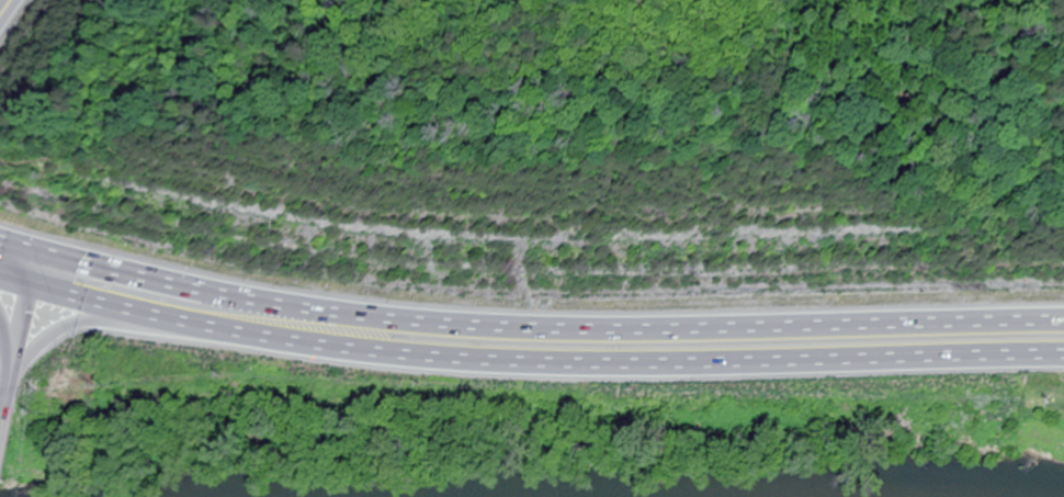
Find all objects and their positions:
road: (2, 3)
traffic signals: (41, 256)
traffic signals: (32, 289)
road: (528, 328)
road: (23, 334)
road: (42, 348)
road: (528, 363)
road: (4, 441)

